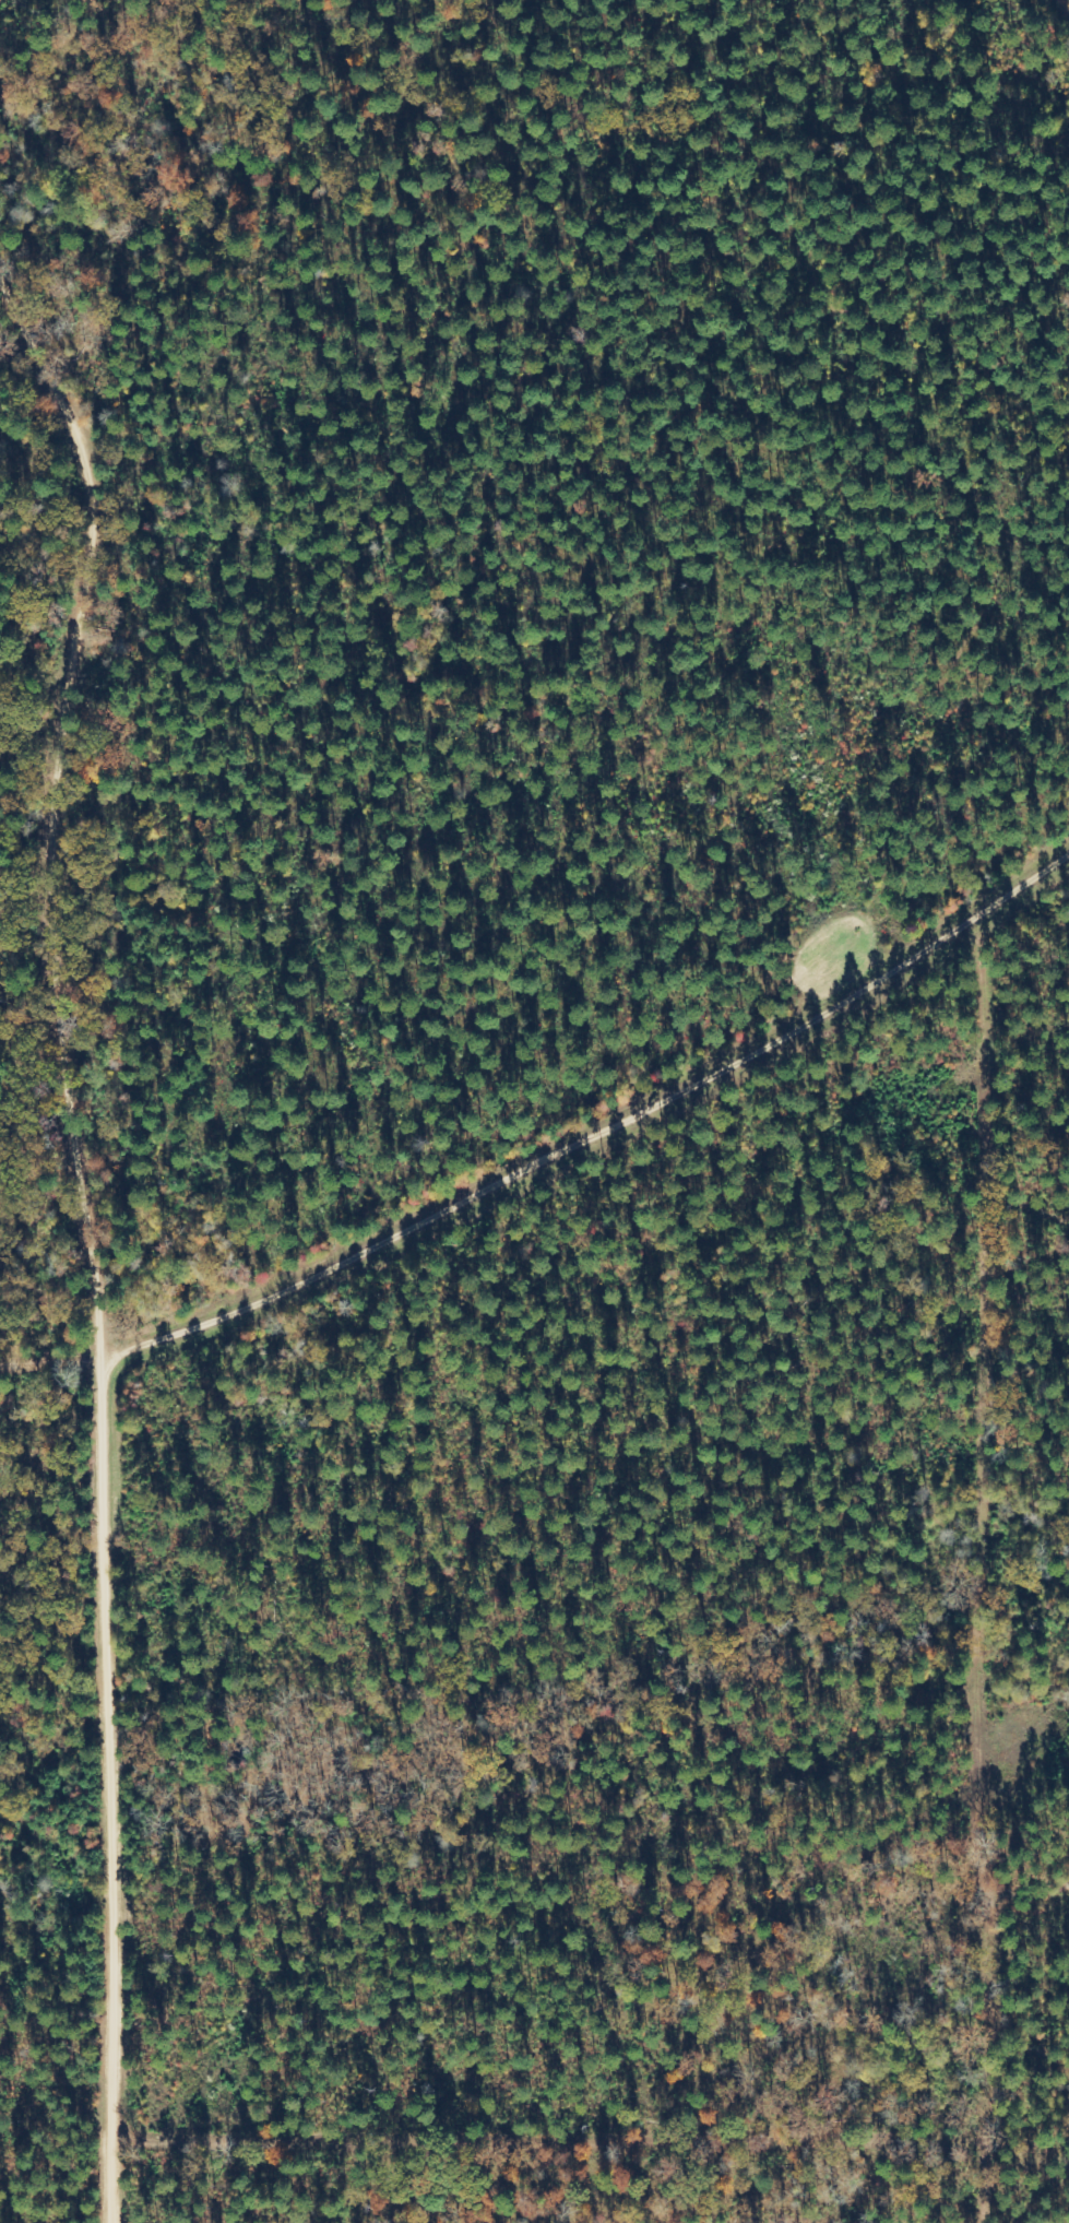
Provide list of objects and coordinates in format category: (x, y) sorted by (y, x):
road: (562, 1175)
road: (93, 1253)

